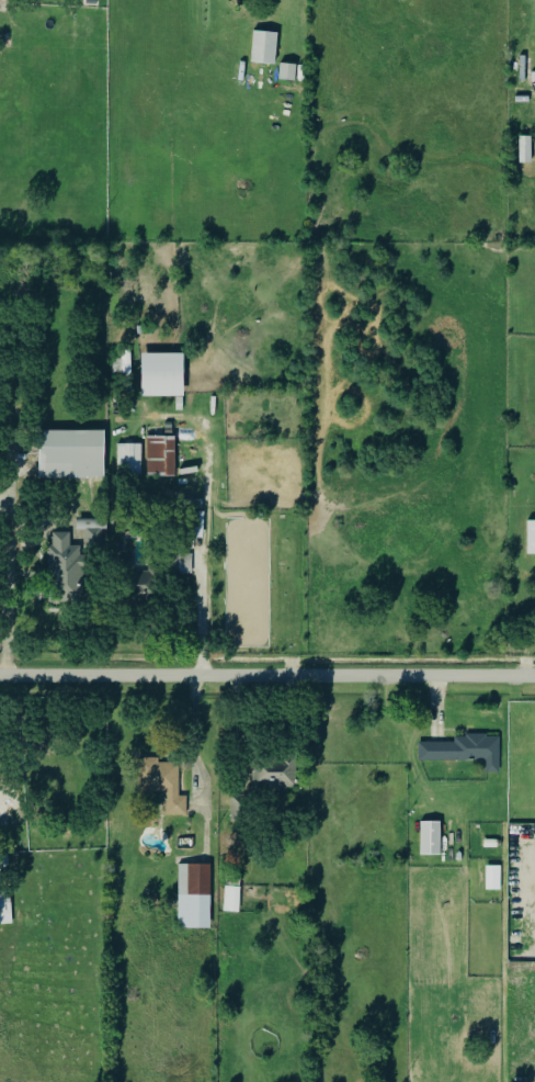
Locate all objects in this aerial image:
building: (91, 2)
building: (261, 49)
building: (285, 74)
building: (522, 150)
building: (123, 365)
building: (160, 375)
building: (69, 457)
building: (158, 458)
building: (127, 462)
road: (4, 500)
building: (192, 526)
road: (41, 527)
building: (531, 538)
road: (10, 560)
building: (68, 564)
building: (147, 577)
road: (266, 679)
road: (196, 681)
road: (284, 726)
road: (243, 732)
building: (463, 752)
building: (271, 774)
building: (159, 785)
road: (2, 797)
building: (236, 815)
building: (428, 839)
building: (490, 844)
building: (492, 878)
building: (192, 899)
building: (229, 901)
building: (4, 910)

